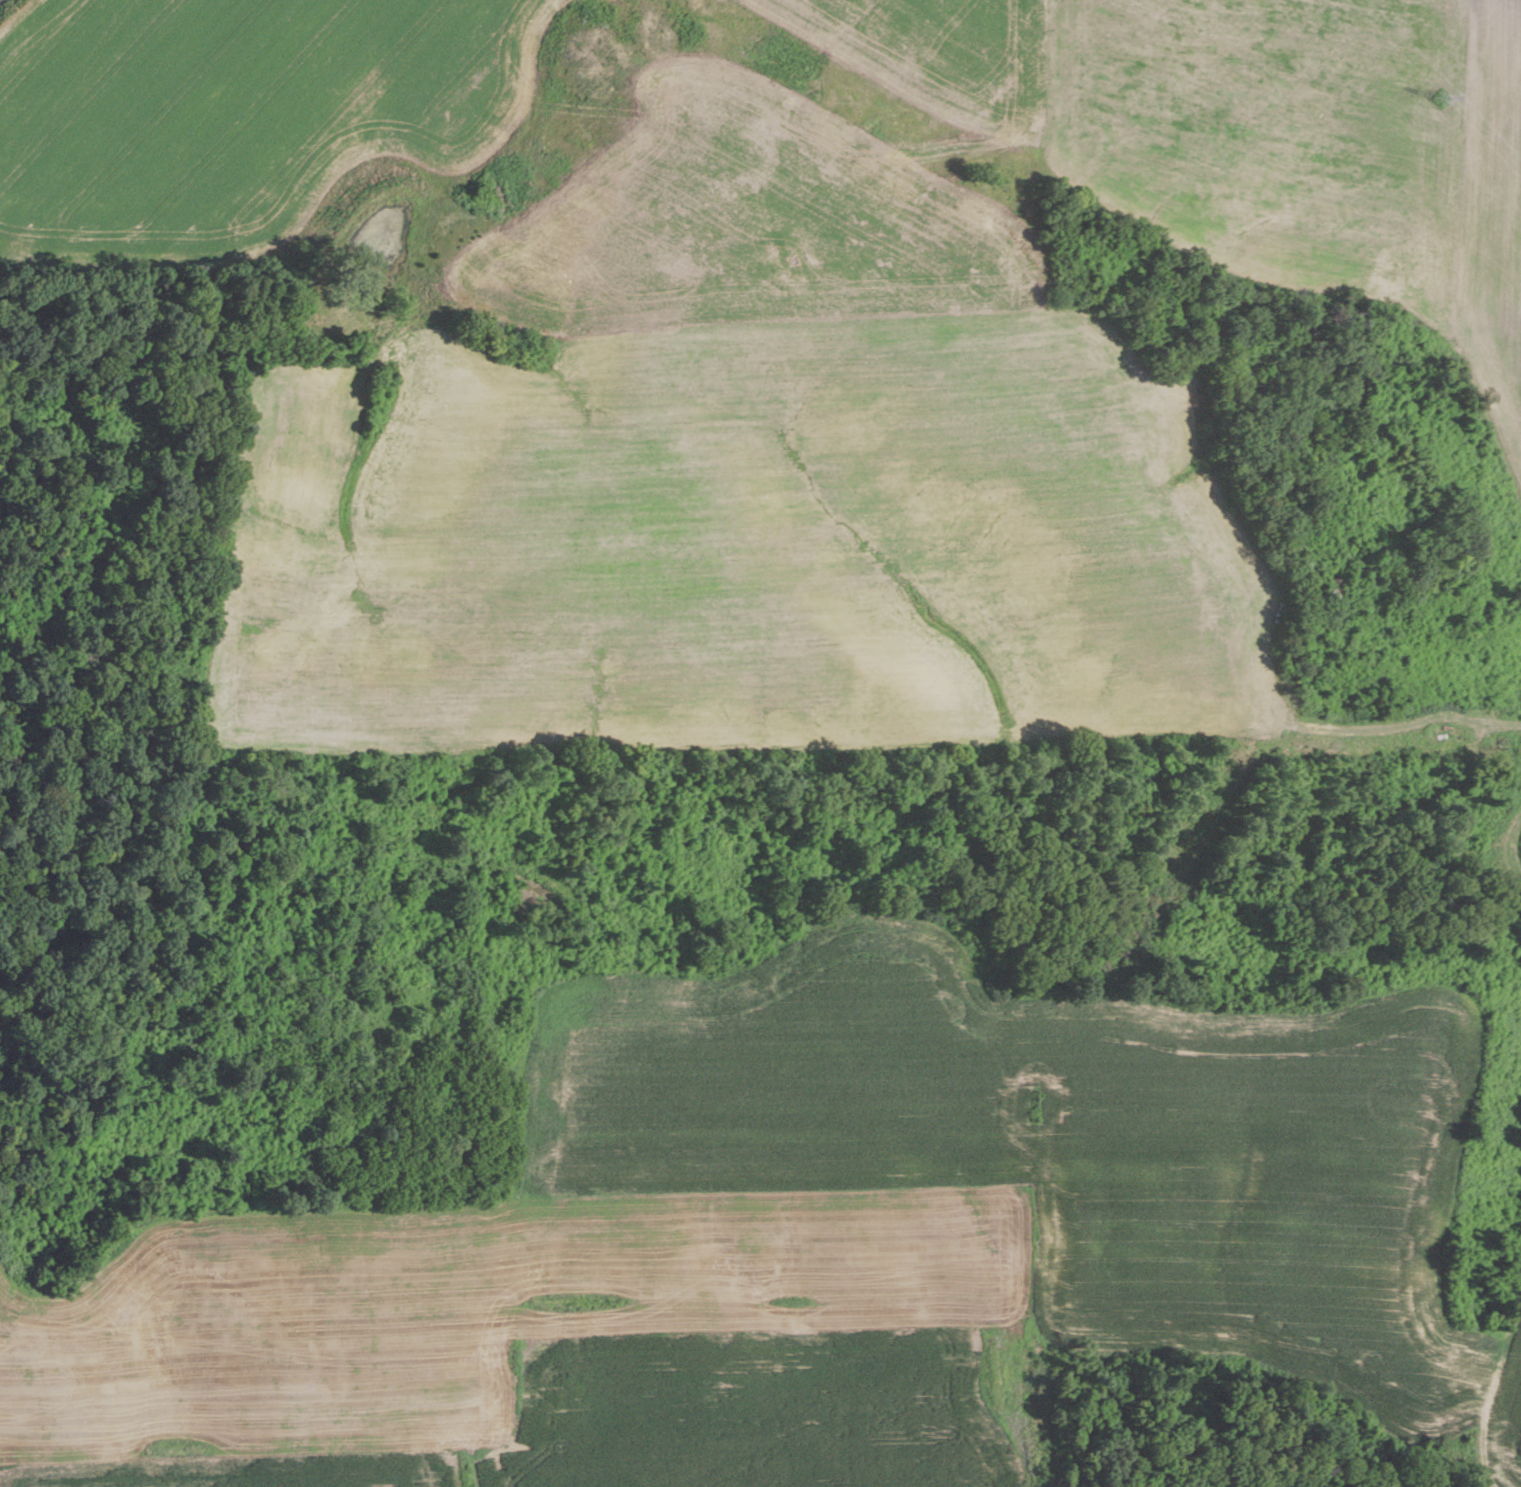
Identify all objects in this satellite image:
crop: (1313, 162)
crop: (739, 483)
crop: (1518, 852)
building: (432, 1050)
crop: (1068, 1141)
crop: (540, 1345)
crop: (1502, 1427)

